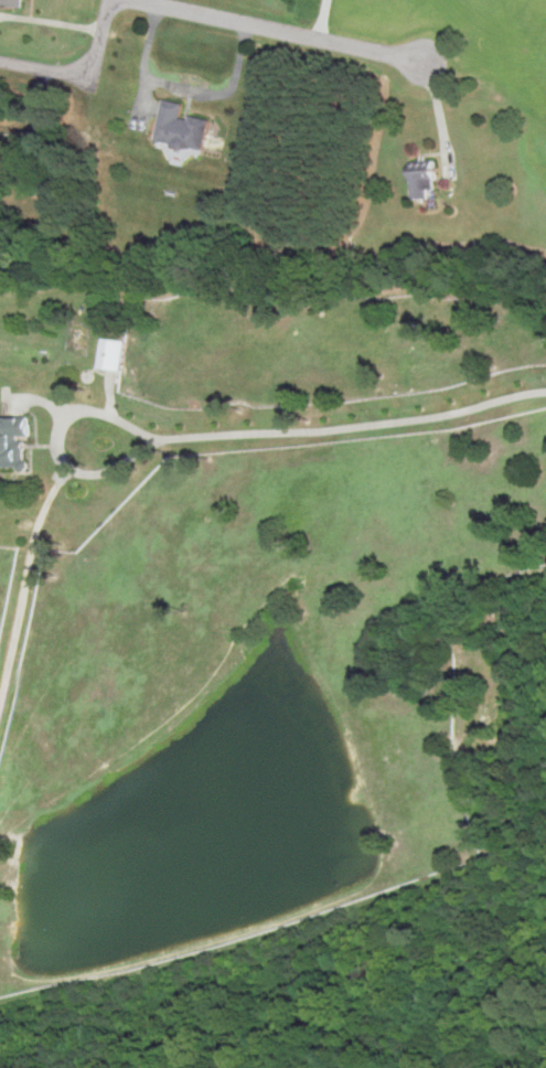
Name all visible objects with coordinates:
building: (11, 2)
road: (317, 21)
road: (291, 35)
road: (49, 74)
road: (186, 82)
road: (88, 124)
building: (182, 127)
building: (424, 180)
building: (114, 354)
road: (352, 425)
building: (13, 441)
road: (34, 533)

